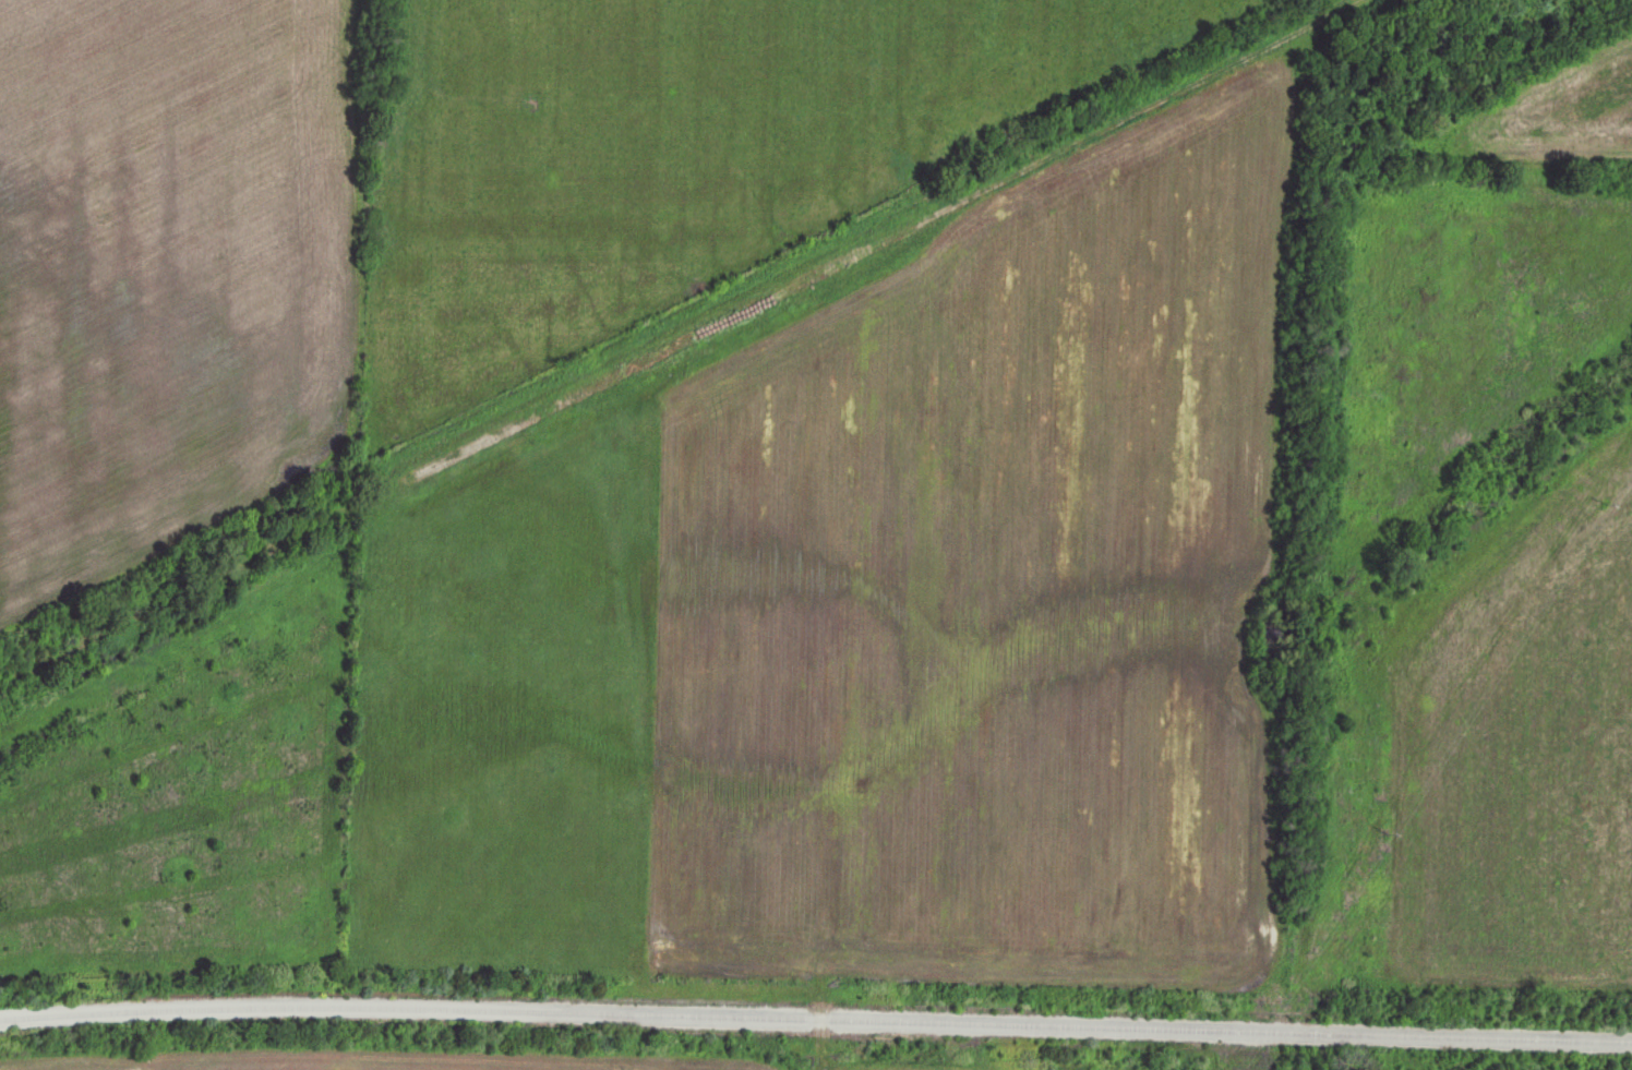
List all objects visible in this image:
railway: (815, 991)

